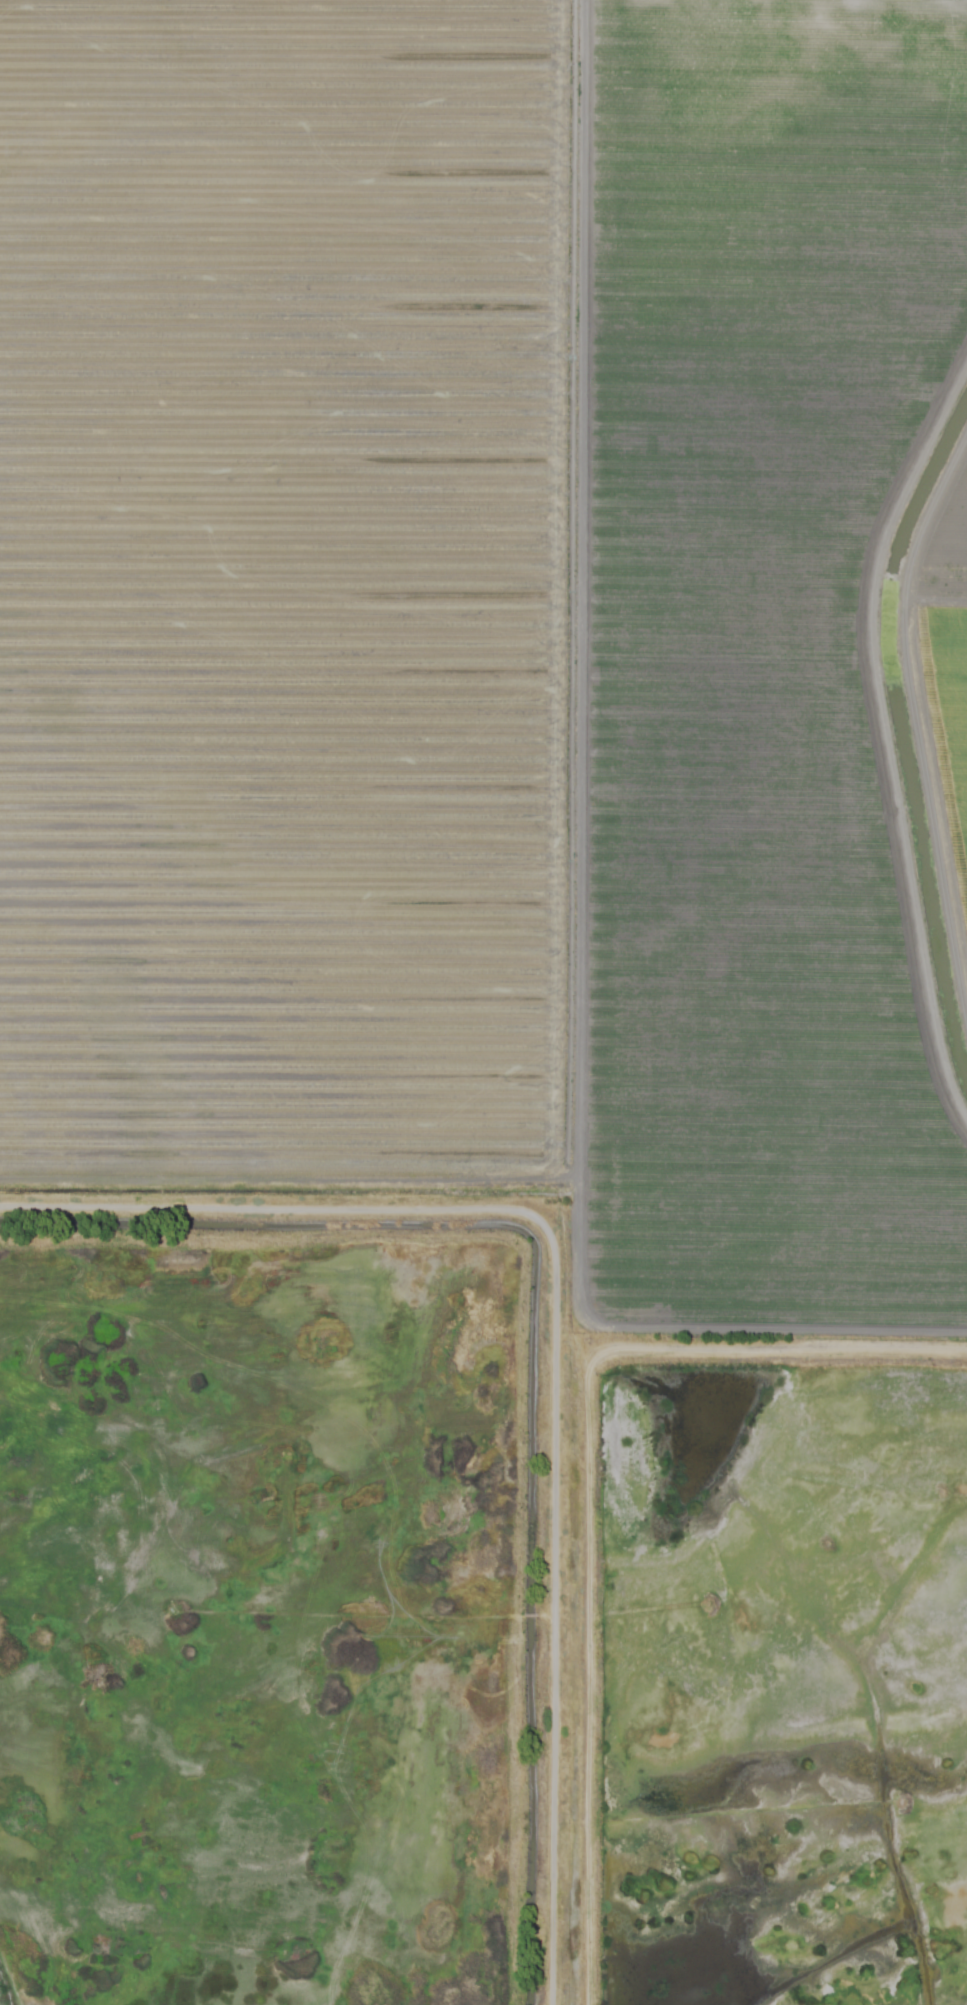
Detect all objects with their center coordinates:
crop: (498, 623)

